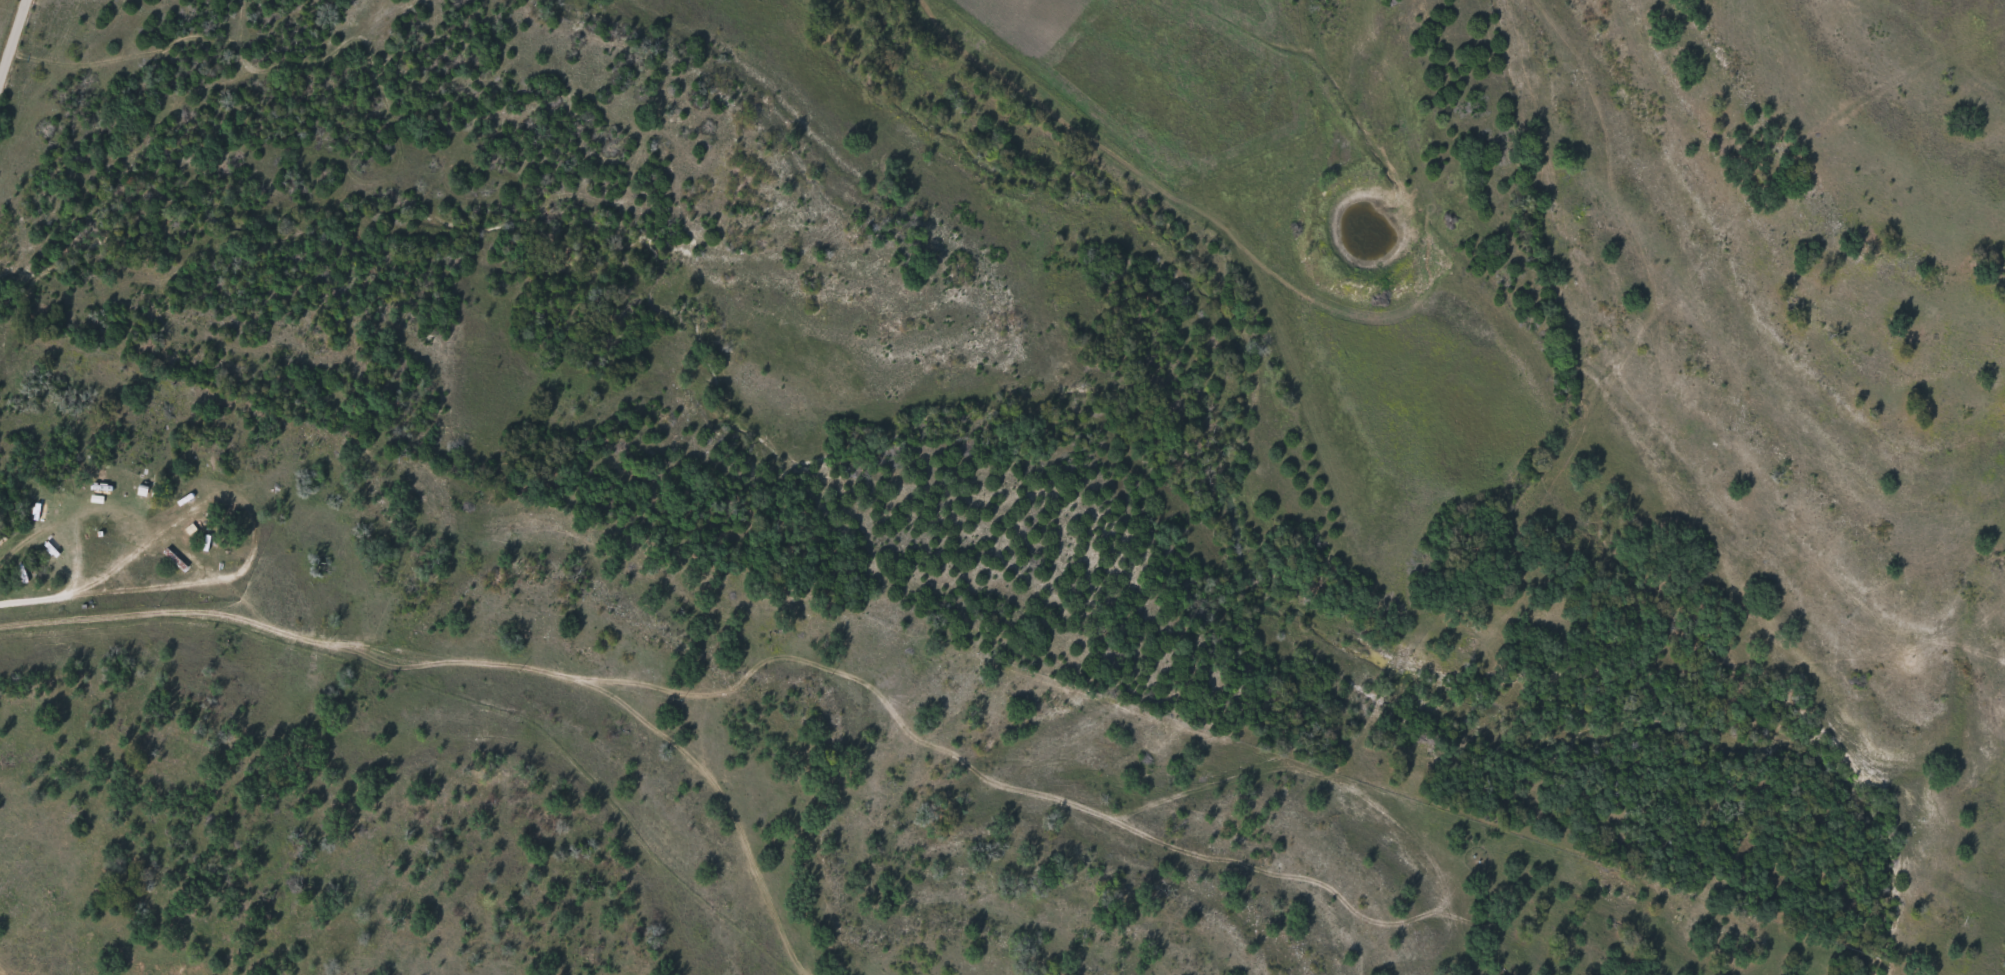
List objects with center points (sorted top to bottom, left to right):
road: (14, 40)

